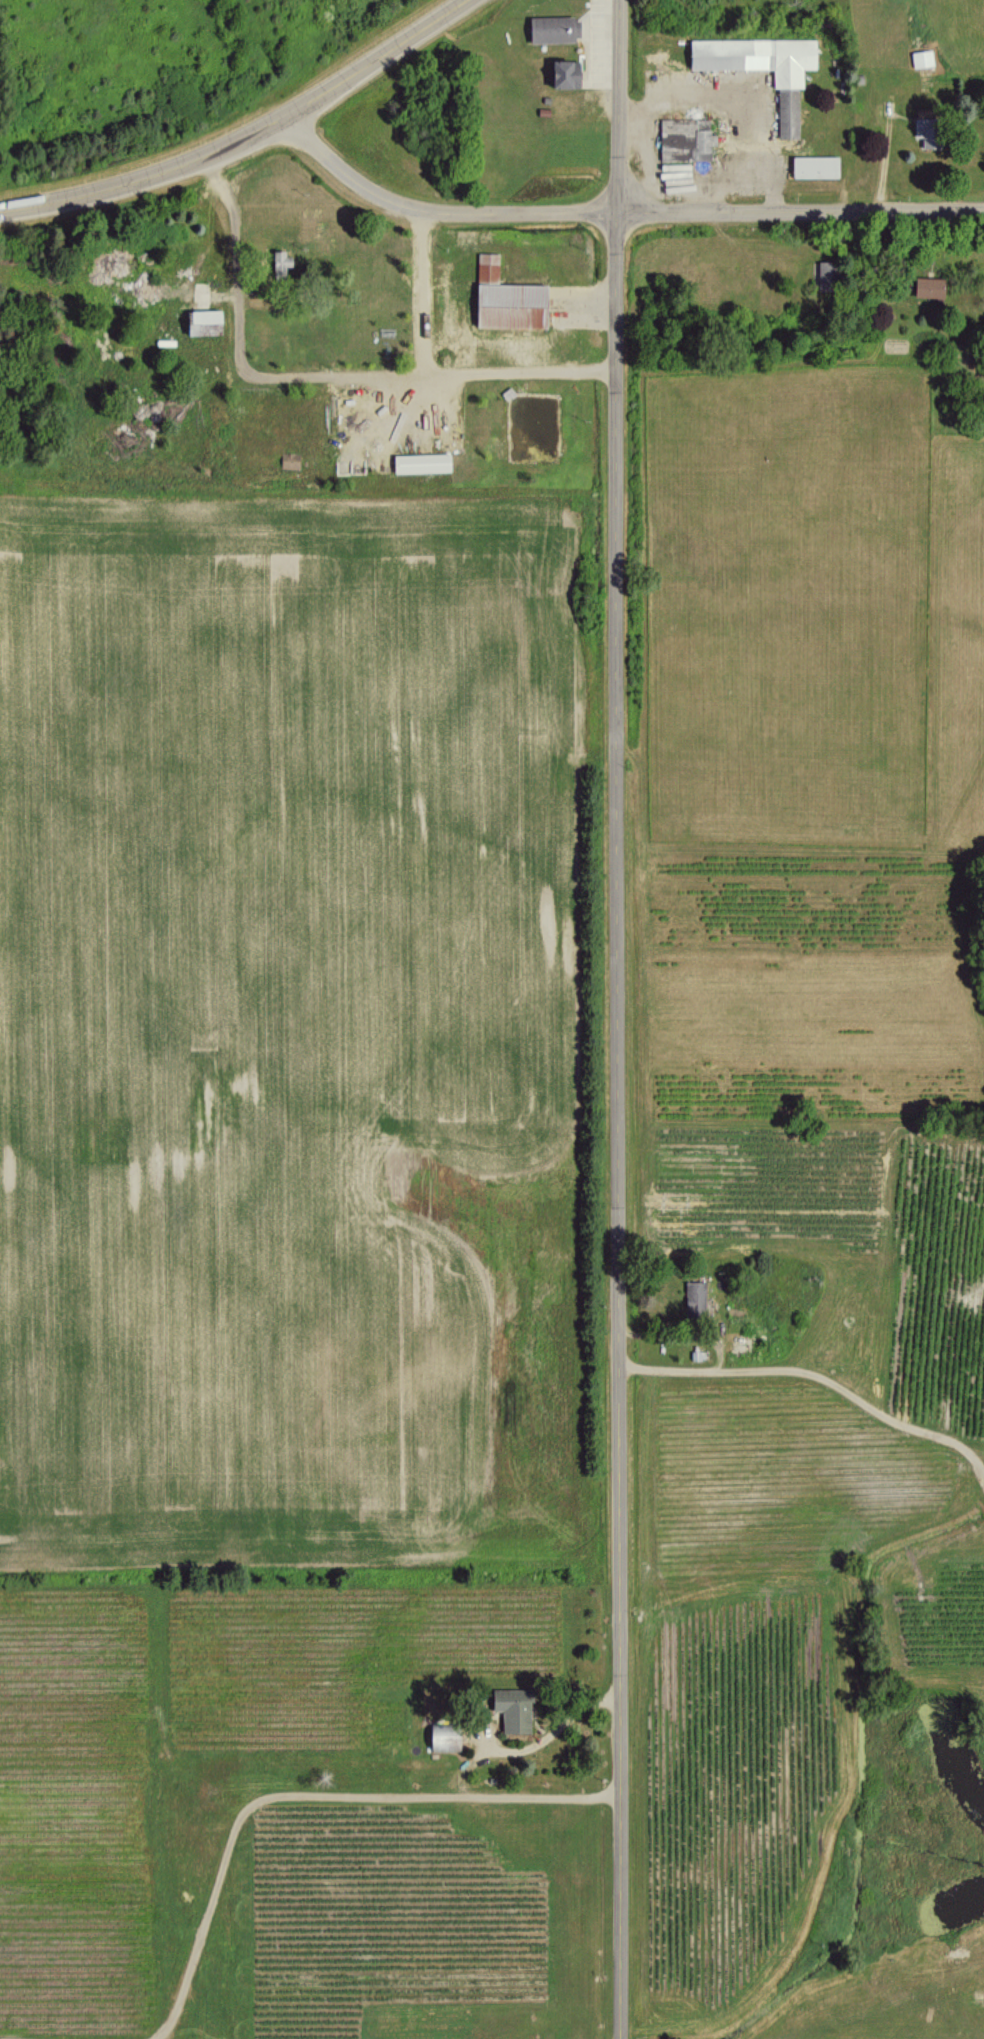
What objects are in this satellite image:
building: (552, 29)
building: (921, 58)
building: (761, 68)
building: (560, 74)
raceway: (187, 125)
road: (243, 136)
building: (684, 140)
building: (812, 166)
road: (432, 210)
road: (800, 211)
building: (278, 263)
building: (823, 272)
building: (926, 287)
building: (505, 299)
building: (200, 323)
road: (318, 373)
building: (419, 463)
road: (613, 1019)
building: (693, 1297)
road: (715, 1351)
building: (510, 1709)
building: (442, 1739)

